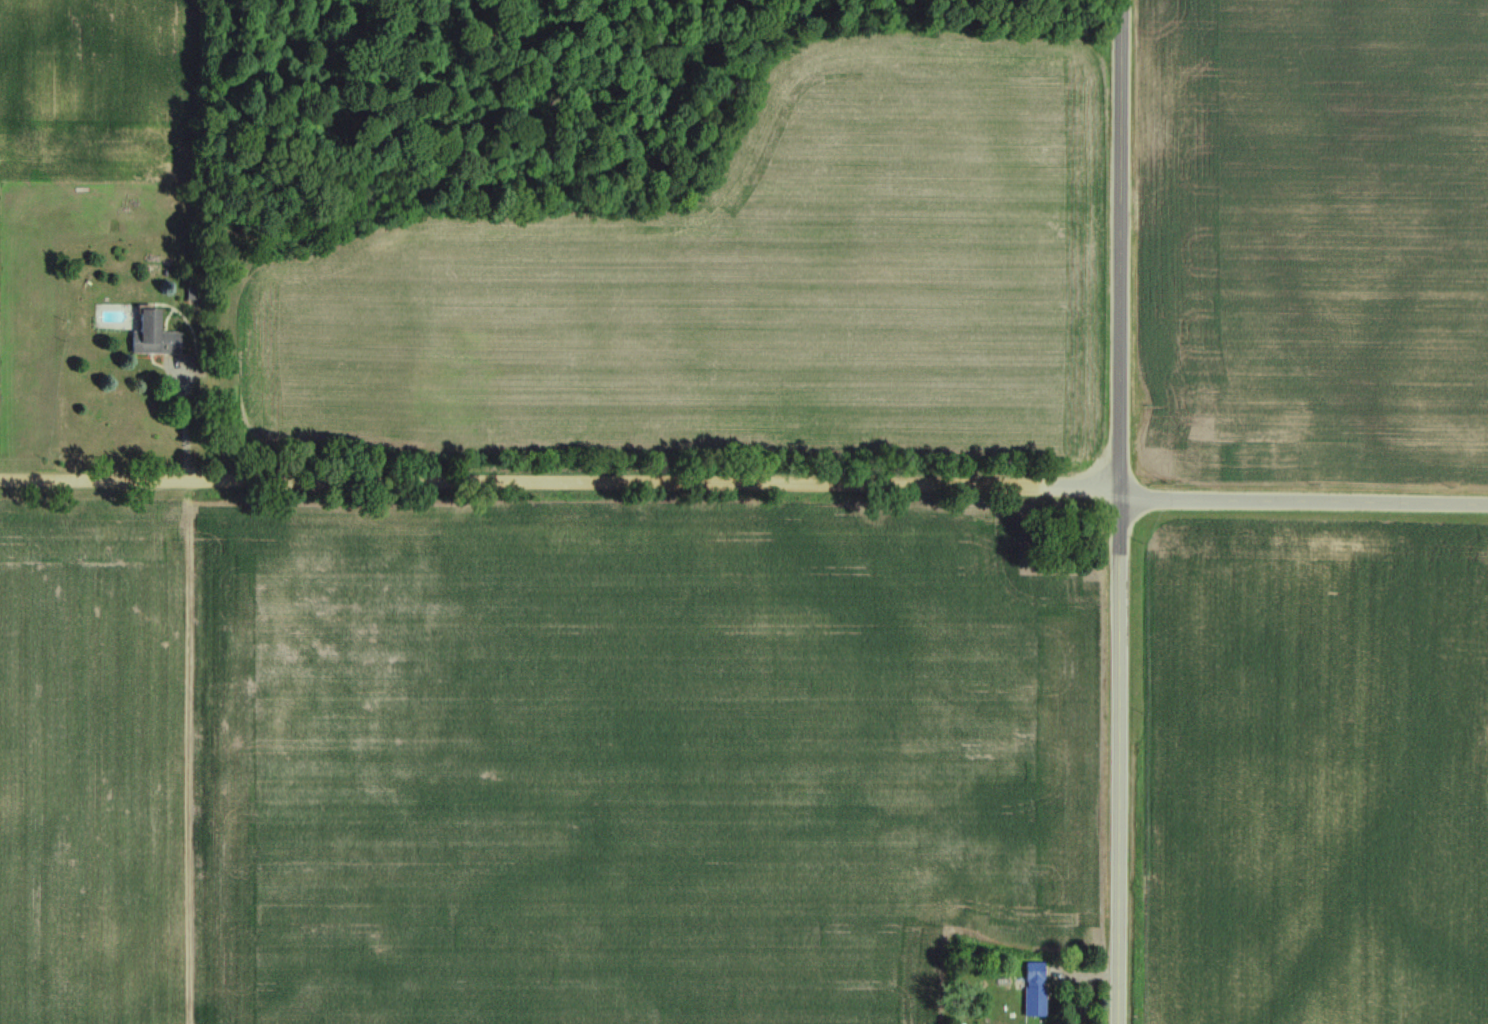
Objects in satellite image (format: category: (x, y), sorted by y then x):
building: (154, 336)
road: (185, 421)
road: (560, 486)
road: (1305, 505)
road: (1121, 512)
building: (1033, 990)

